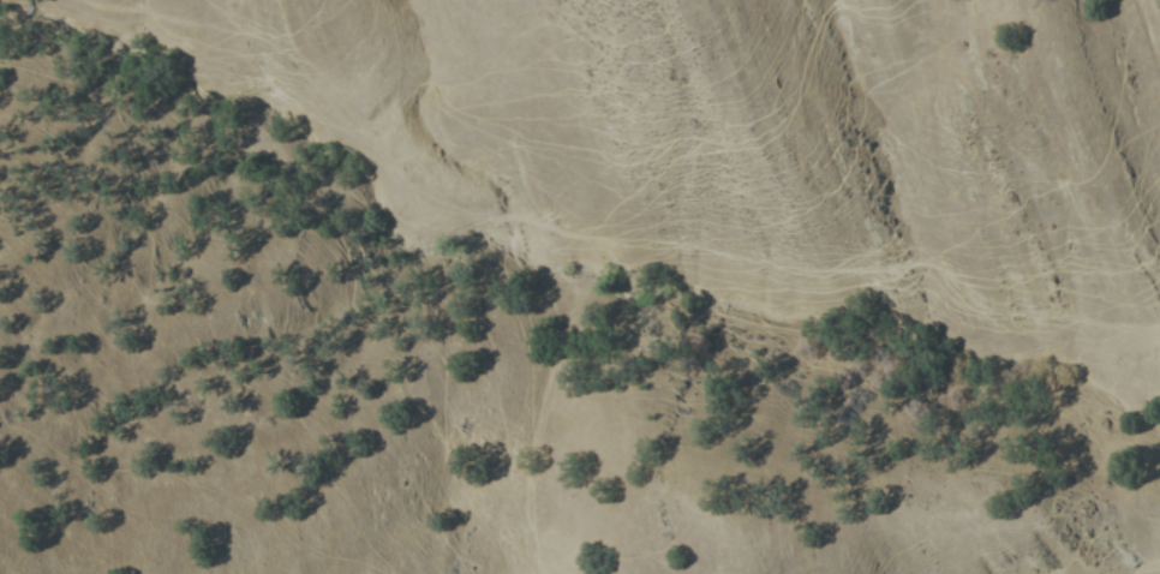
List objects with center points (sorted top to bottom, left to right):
road: (1143, 2)

